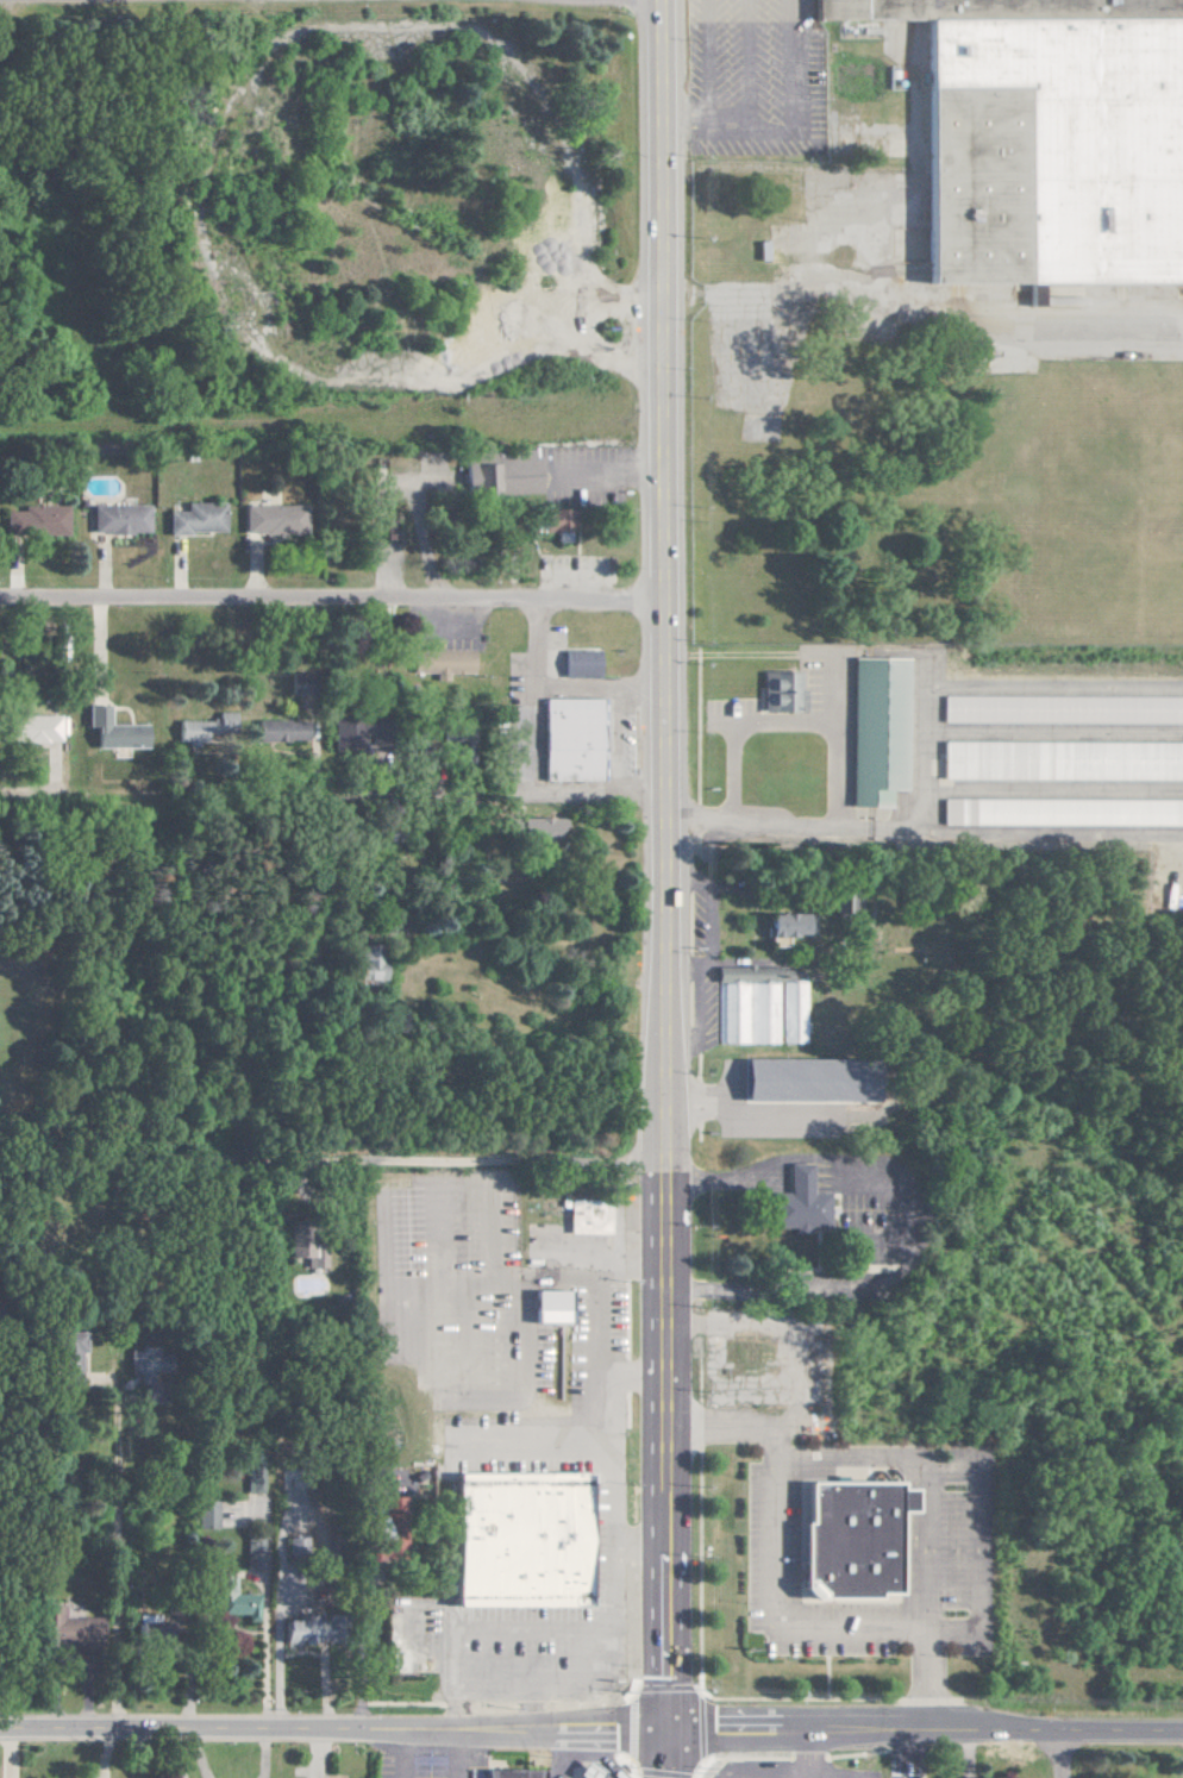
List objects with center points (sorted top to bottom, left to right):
road: (784, 17)
road: (702, 64)
road: (744, 64)
building: (1006, 101)
road: (772, 130)
road: (808, 288)
road: (995, 332)
road: (608, 471)
building: (500, 477)
road: (396, 483)
building: (117, 519)
building: (194, 519)
building: (35, 520)
building: (270, 520)
building: (553, 520)
road: (331, 600)
road: (788, 643)
building: (438, 662)
building: (577, 664)
road: (556, 684)
building: (775, 691)
road: (616, 693)
building: (1058, 709)
building: (29, 730)
building: (205, 730)
building: (874, 730)
building: (111, 731)
building: (278, 731)
building: (345, 734)
building: (569, 739)
road: (616, 740)
road: (839, 751)
building: (1182, 764)
road: (618, 790)
road: (331, 793)
building: (982, 812)
building: (536, 828)
road: (662, 864)
building: (784, 924)
building: (774, 940)
building: (367, 969)
building: (790, 1012)
building: (746, 1013)
building: (757, 1079)
building: (828, 1081)
road: (455, 1166)
road: (805, 1173)
road: (891, 1176)
road: (725, 1177)
building: (796, 1202)
building: (599, 1208)
building: (303, 1250)
road: (901, 1260)
road: (527, 1281)
road: (775, 1282)
building: (545, 1306)
road: (590, 1356)
building: (67, 1359)
road: (611, 1461)
road: (976, 1469)
building: (250, 1480)
building: (389, 1504)
building: (204, 1514)
building: (521, 1539)
building: (855, 1539)
road: (926, 1544)
road: (112, 1545)
building: (382, 1548)
building: (249, 1555)
building: (230, 1599)
road: (777, 1601)
road: (283, 1619)
building: (70, 1627)
road: (549, 1627)
building: (154, 1629)
building: (296, 1630)
road: (556, 1677)
road: (11, 1697)
road: (527, 1702)
road: (332, 1727)
traffic signals: (664, 1728)
road: (922, 1730)
road: (409, 1753)
road: (664, 1753)
road: (1062, 1754)
building: (588, 1768)
building: (511, 1773)
road: (788, 1773)
road: (830, 1774)
road: (784, 1776)

